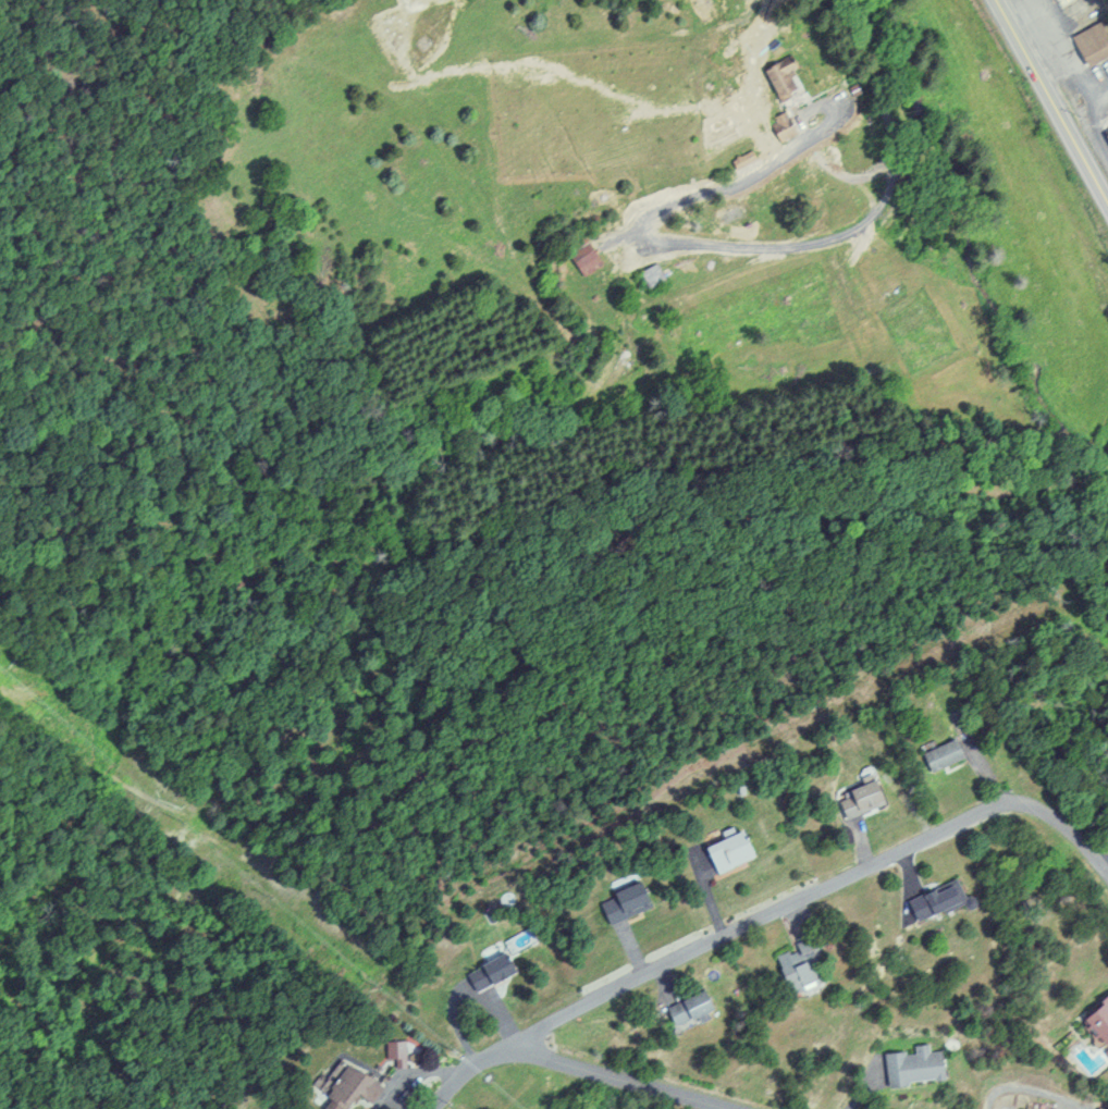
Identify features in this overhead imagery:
building: (1091, 44)
building: (783, 84)
road: (1048, 103)
building: (1106, 134)
road: (844, 232)
building: (581, 255)
building: (651, 274)
building: (939, 753)
building: (862, 796)
building: (725, 850)
building: (934, 899)
building: (623, 901)
road: (765, 908)
building: (796, 966)
building: (488, 970)
building: (686, 1007)
building: (1096, 1019)
building: (911, 1064)
road: (617, 1077)
building: (345, 1087)

